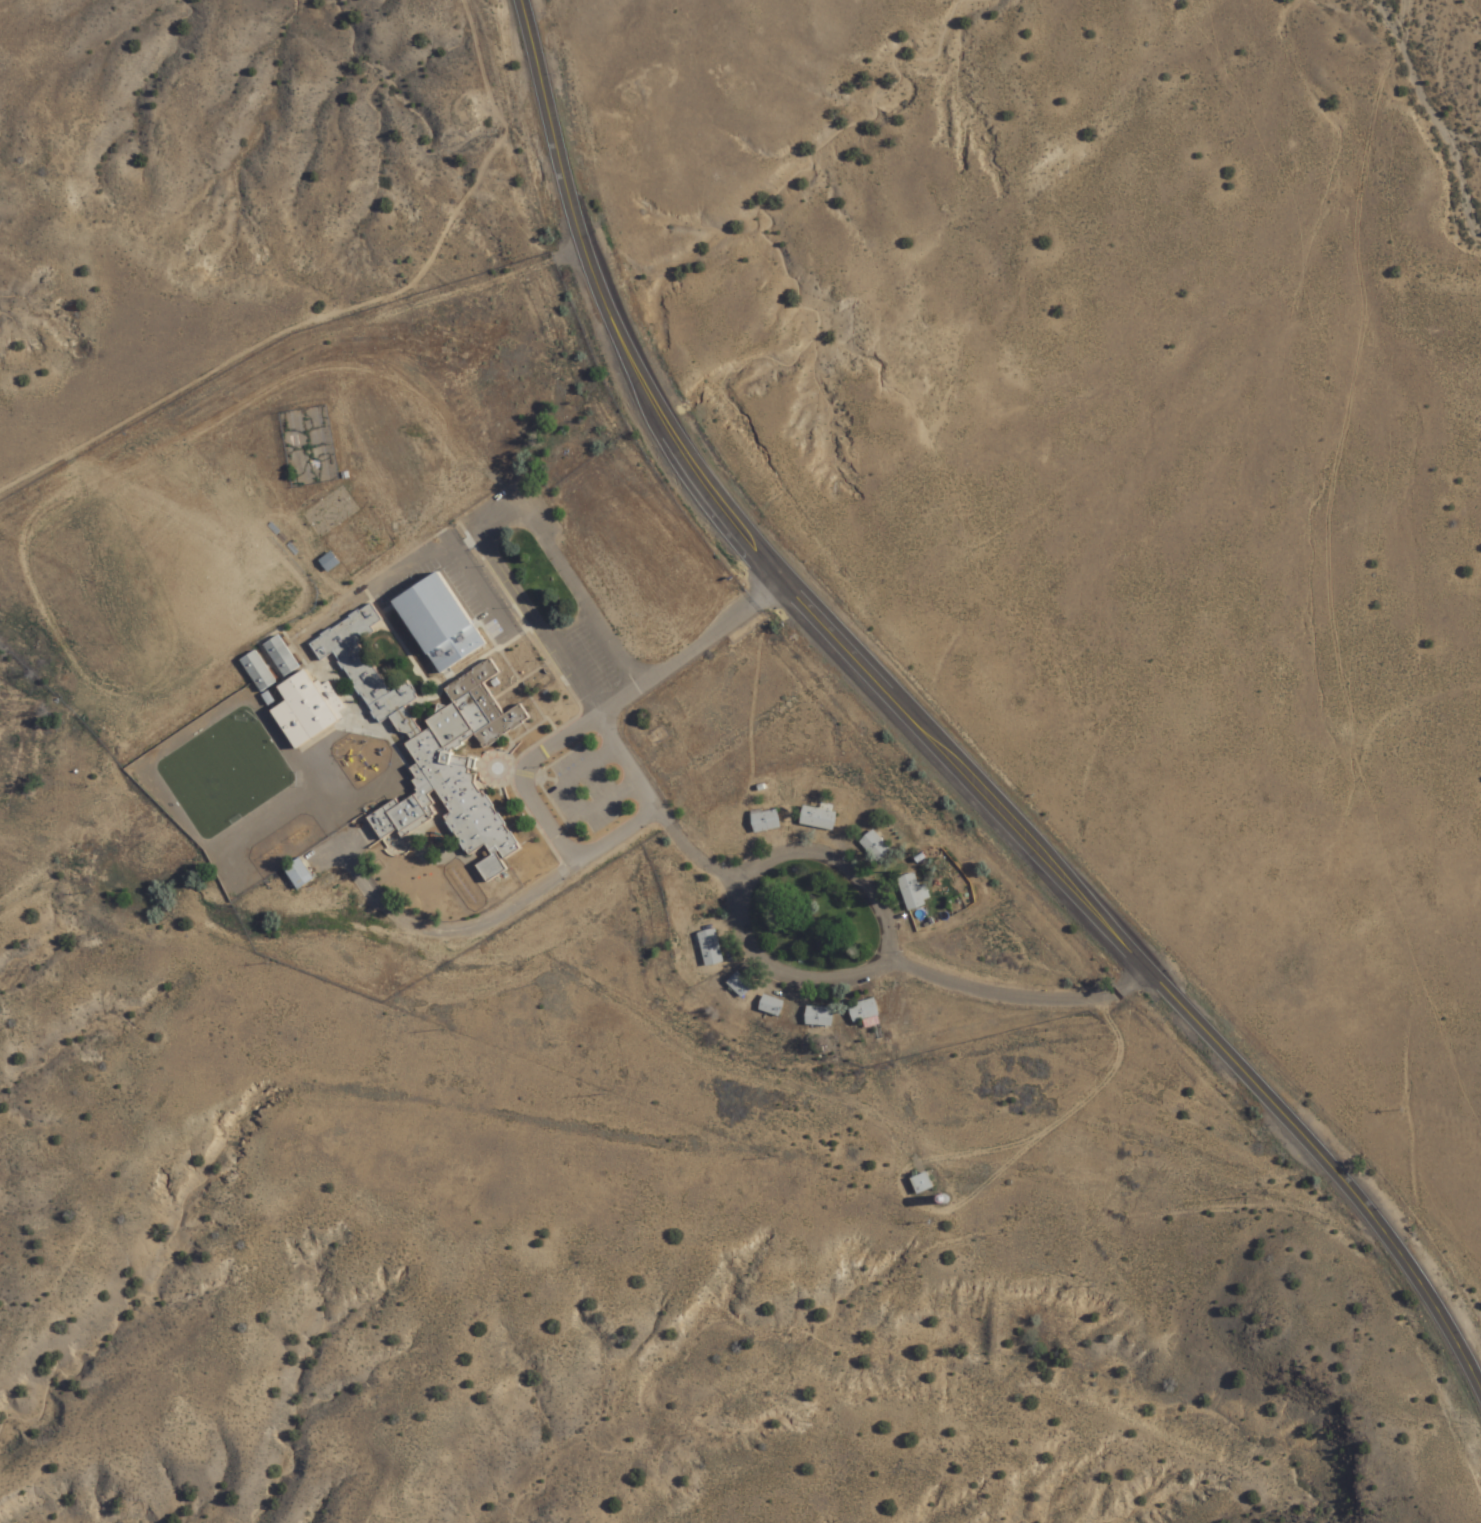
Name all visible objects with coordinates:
building: (328, 562)
building: (280, 658)
building: (257, 672)
building: (307, 710)
road: (599, 718)
road: (925, 739)
building: (435, 747)
building: (817, 818)
building: (764, 821)
building: (874, 846)
building: (298, 875)
building: (910, 891)
building: (709, 947)
road: (808, 981)
building: (739, 985)
building: (770, 1005)
building: (863, 1010)
building: (818, 1016)
building: (923, 1182)

